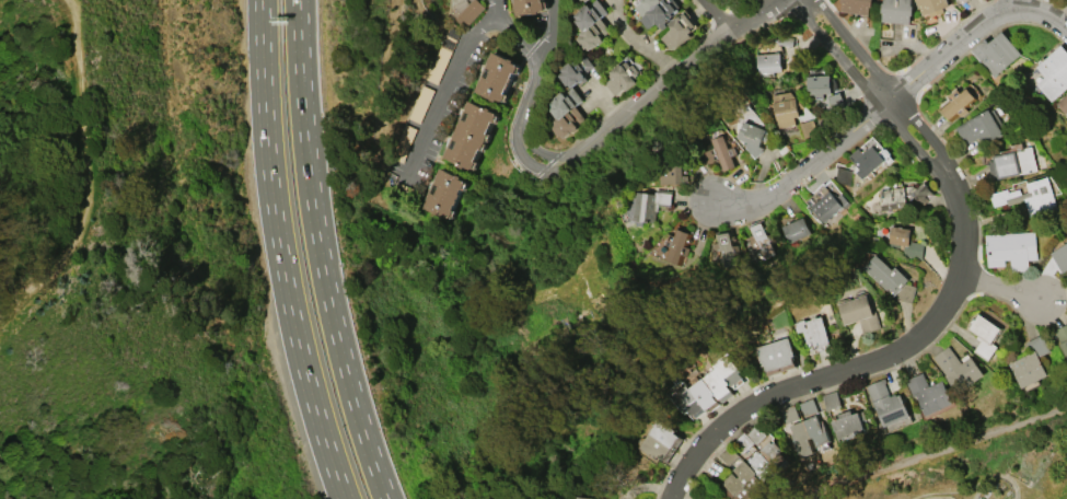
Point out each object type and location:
building: (585, 0)
road: (1014, 4)
building: (646, 5)
road: (754, 5)
building: (856, 5)
building: (931, 5)
building: (529, 7)
building: (896, 11)
building: (466, 12)
building: (658, 14)
road: (721, 14)
building: (590, 24)
building: (677, 31)
road: (519, 34)
road: (636, 40)
building: (995, 53)
building: (767, 62)
building: (575, 70)
building: (1053, 73)
building: (497, 77)
building: (621, 78)
road: (668, 79)
road: (455, 80)
road: (883, 83)
building: (819, 85)
road: (866, 89)
road: (530, 90)
building: (563, 102)
road: (892, 102)
building: (956, 102)
building: (1062, 103)
building: (785, 108)
building: (566, 123)
building: (807, 128)
building: (982, 128)
building: (469, 135)
building: (752, 138)
building: (720, 153)
building: (869, 159)
building: (1012, 163)
road: (74, 167)
building: (843, 175)
building: (444, 193)
building: (903, 196)
building: (1031, 198)
building: (825, 202)
building: (648, 205)
road: (964, 222)
building: (795, 229)
building: (761, 240)
building: (904, 242)
building: (674, 245)
building: (1011, 248)
building: (724, 249)
road: (279, 253)
road: (322, 253)
building: (1060, 257)
building: (890, 279)
road: (1002, 289)
building: (859, 313)
building: (813, 332)
building: (985, 334)
building: (1062, 337)
building: (776, 356)
building: (1030, 364)
building: (958, 369)
building: (730, 370)
road: (814, 380)
building: (719, 384)
building: (928, 393)
building: (705, 394)
building: (831, 401)
building: (691, 402)
building: (886, 403)
building: (808, 407)
building: (787, 415)
building: (847, 422)
building: (814, 430)
building: (665, 433)
building: (799, 438)
building: (656, 446)
building: (770, 453)
building: (730, 456)
building: (759, 466)
building: (745, 475)
building: (733, 488)
building: (584, 498)

